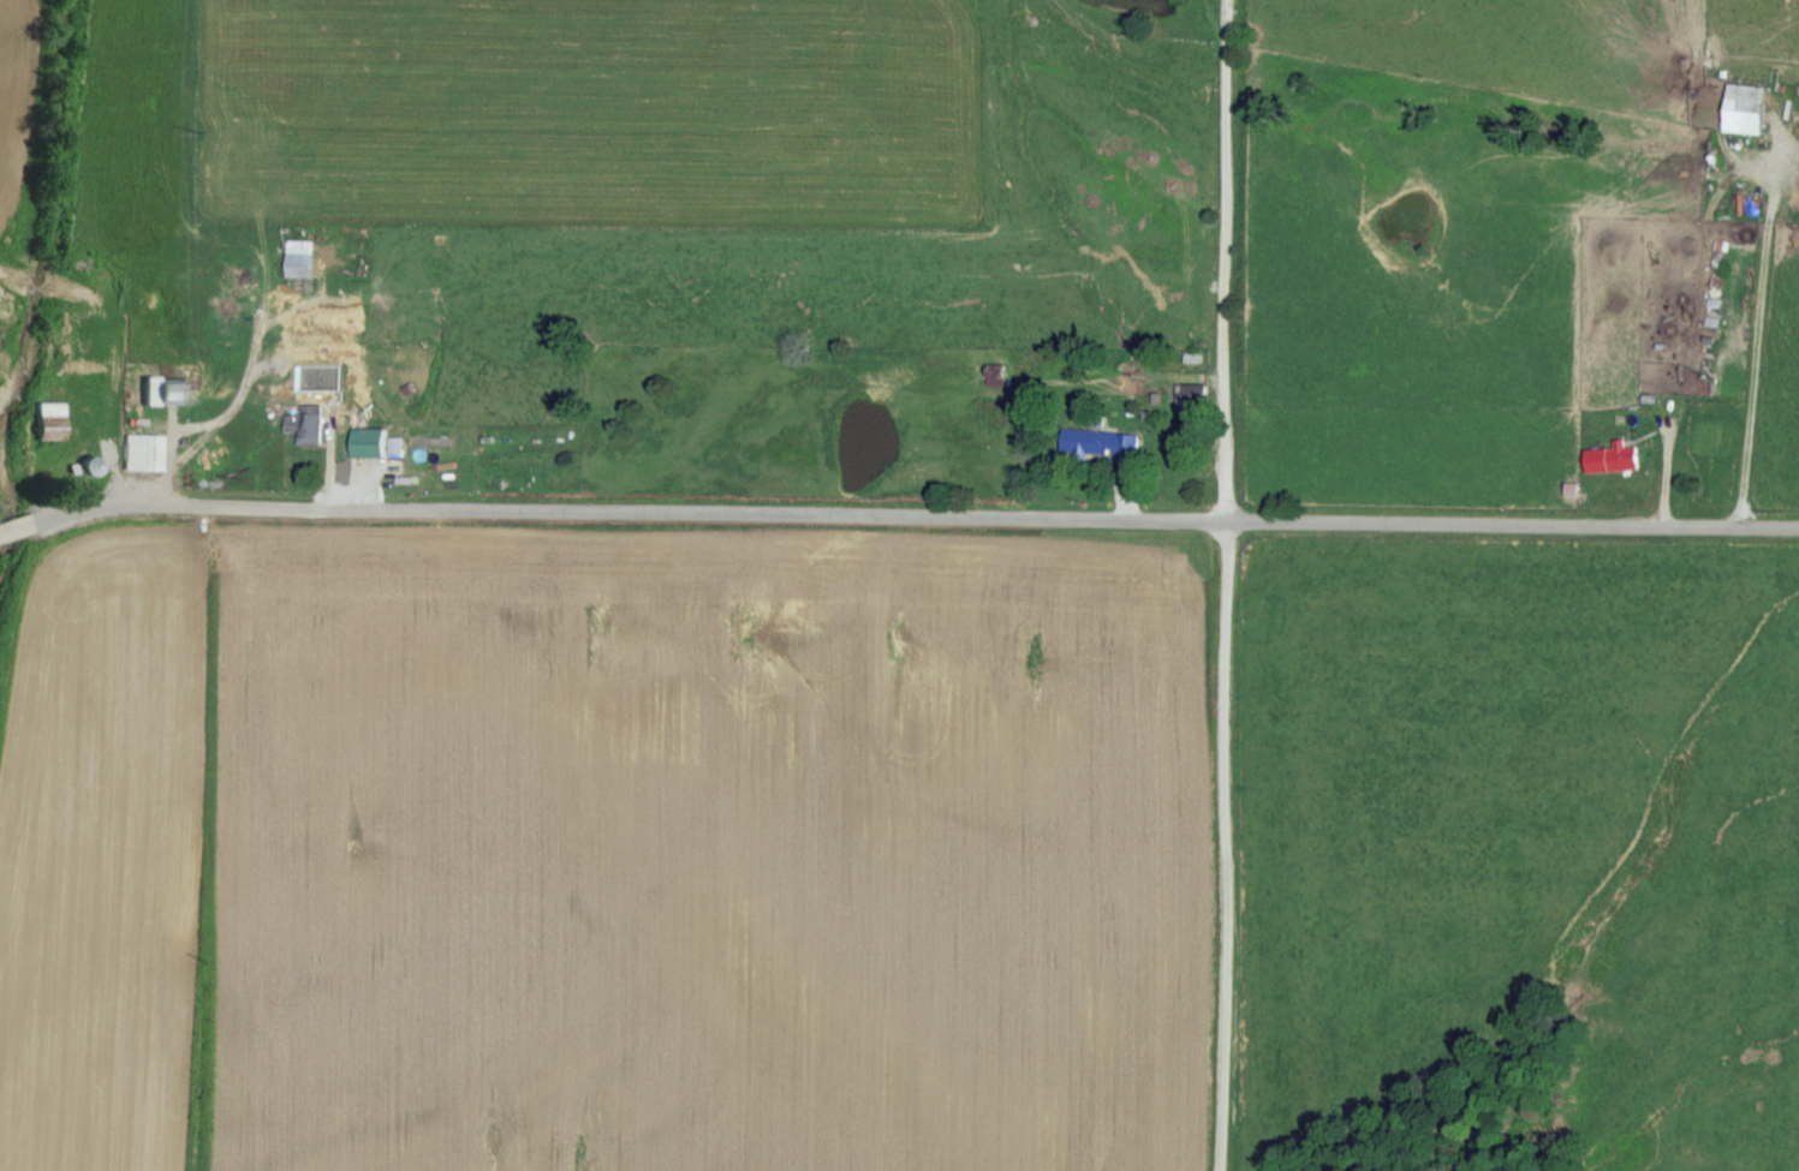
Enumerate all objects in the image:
building: (1741, 107)
building: (308, 257)
building: (1197, 393)
building: (52, 418)
building: (310, 423)
building: (380, 442)
building: (1108, 442)
building: (144, 452)
building: (1610, 458)
road: (898, 513)
road: (1220, 585)

